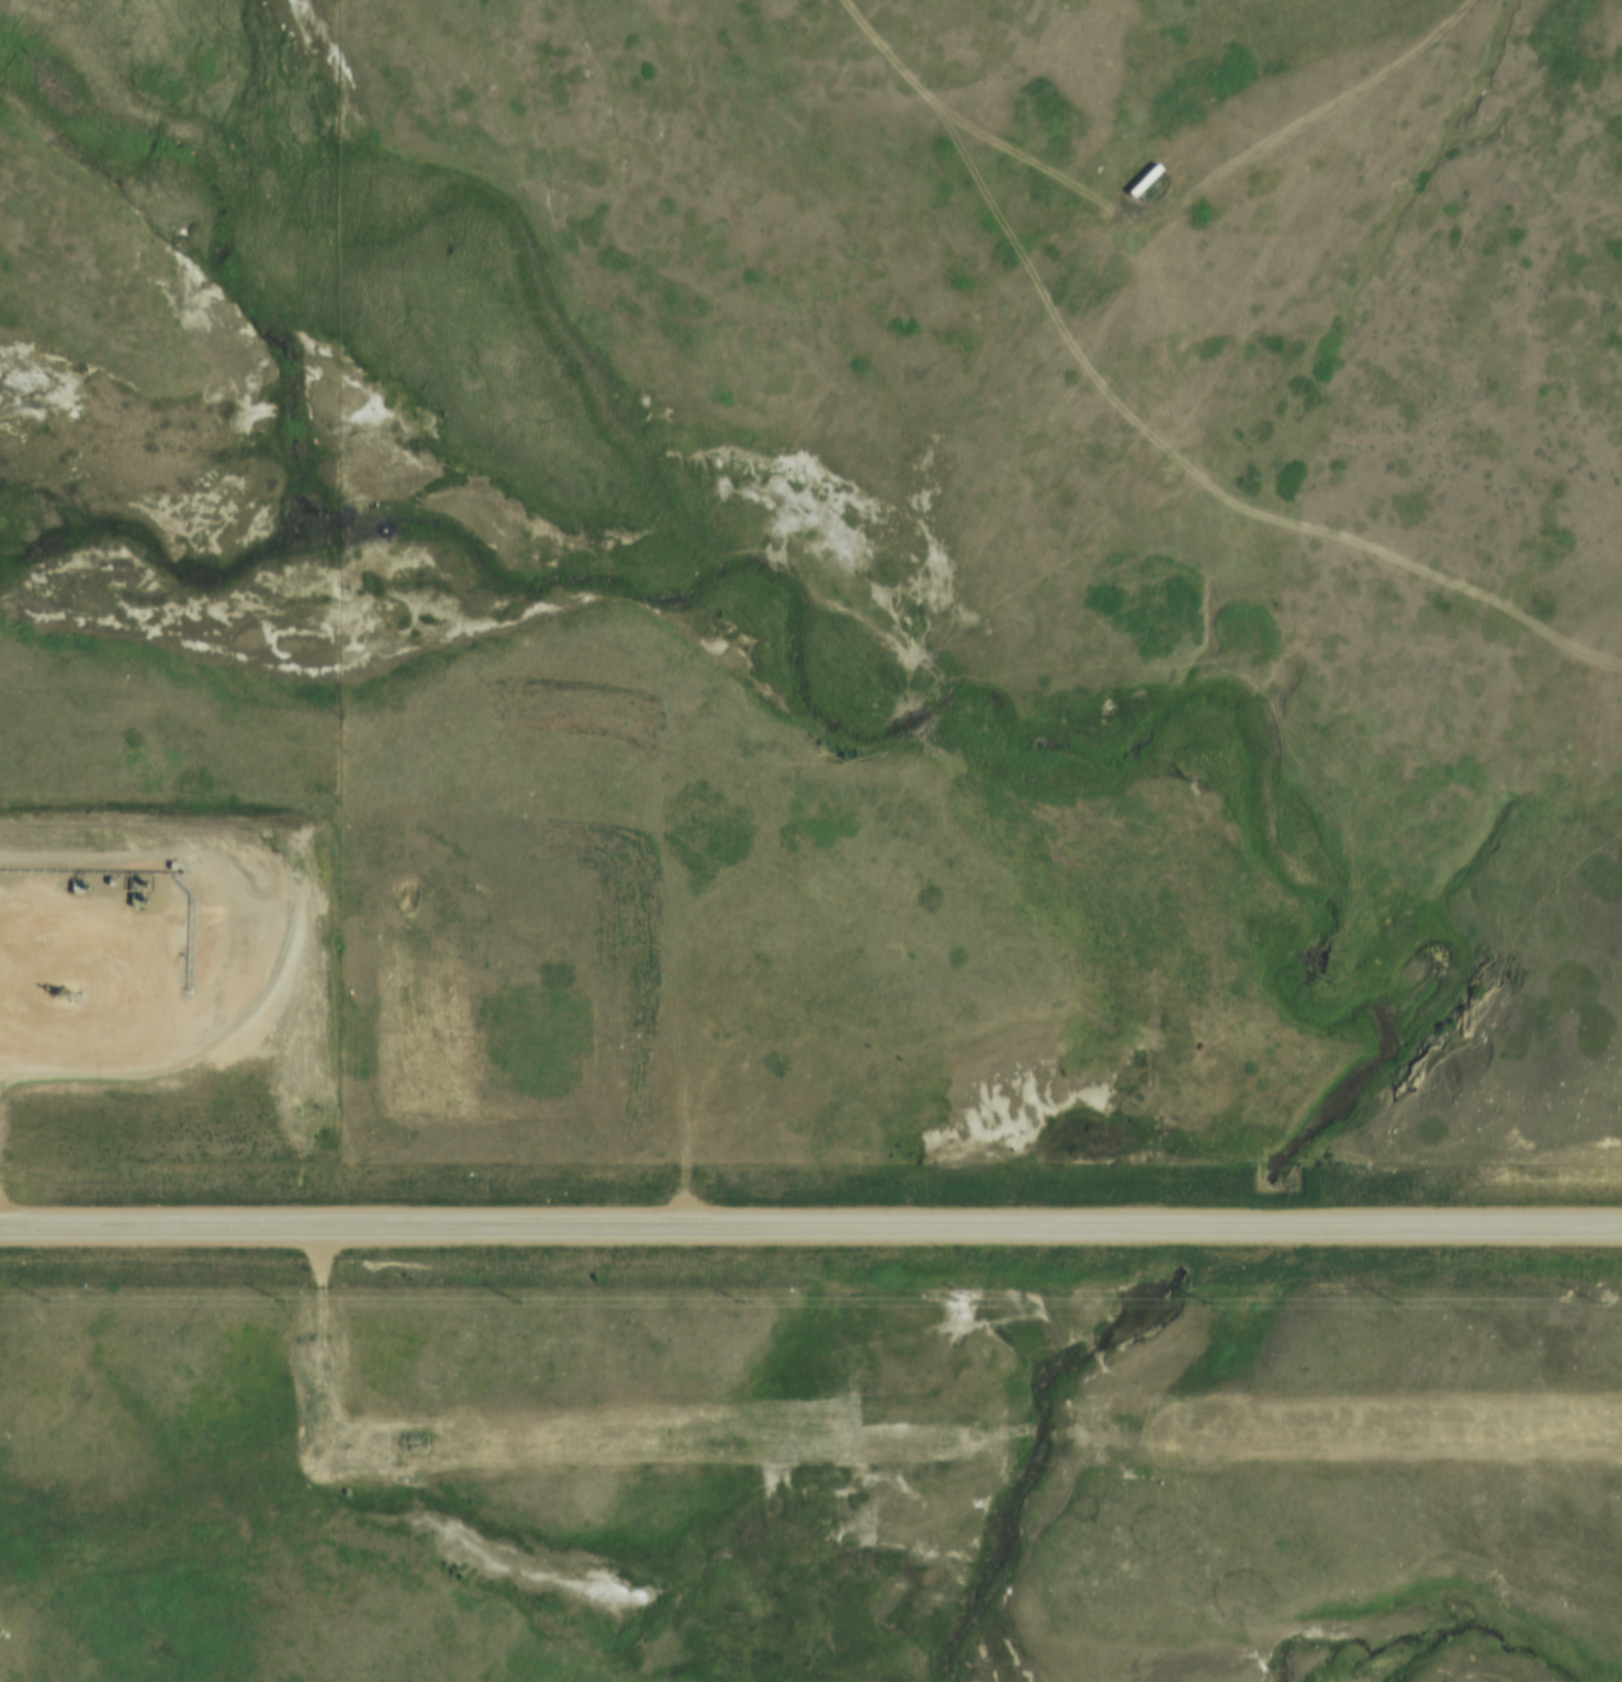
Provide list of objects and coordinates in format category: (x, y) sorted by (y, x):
road: (124, 981)
petroleum well: (64, 990)
road: (811, 1232)

